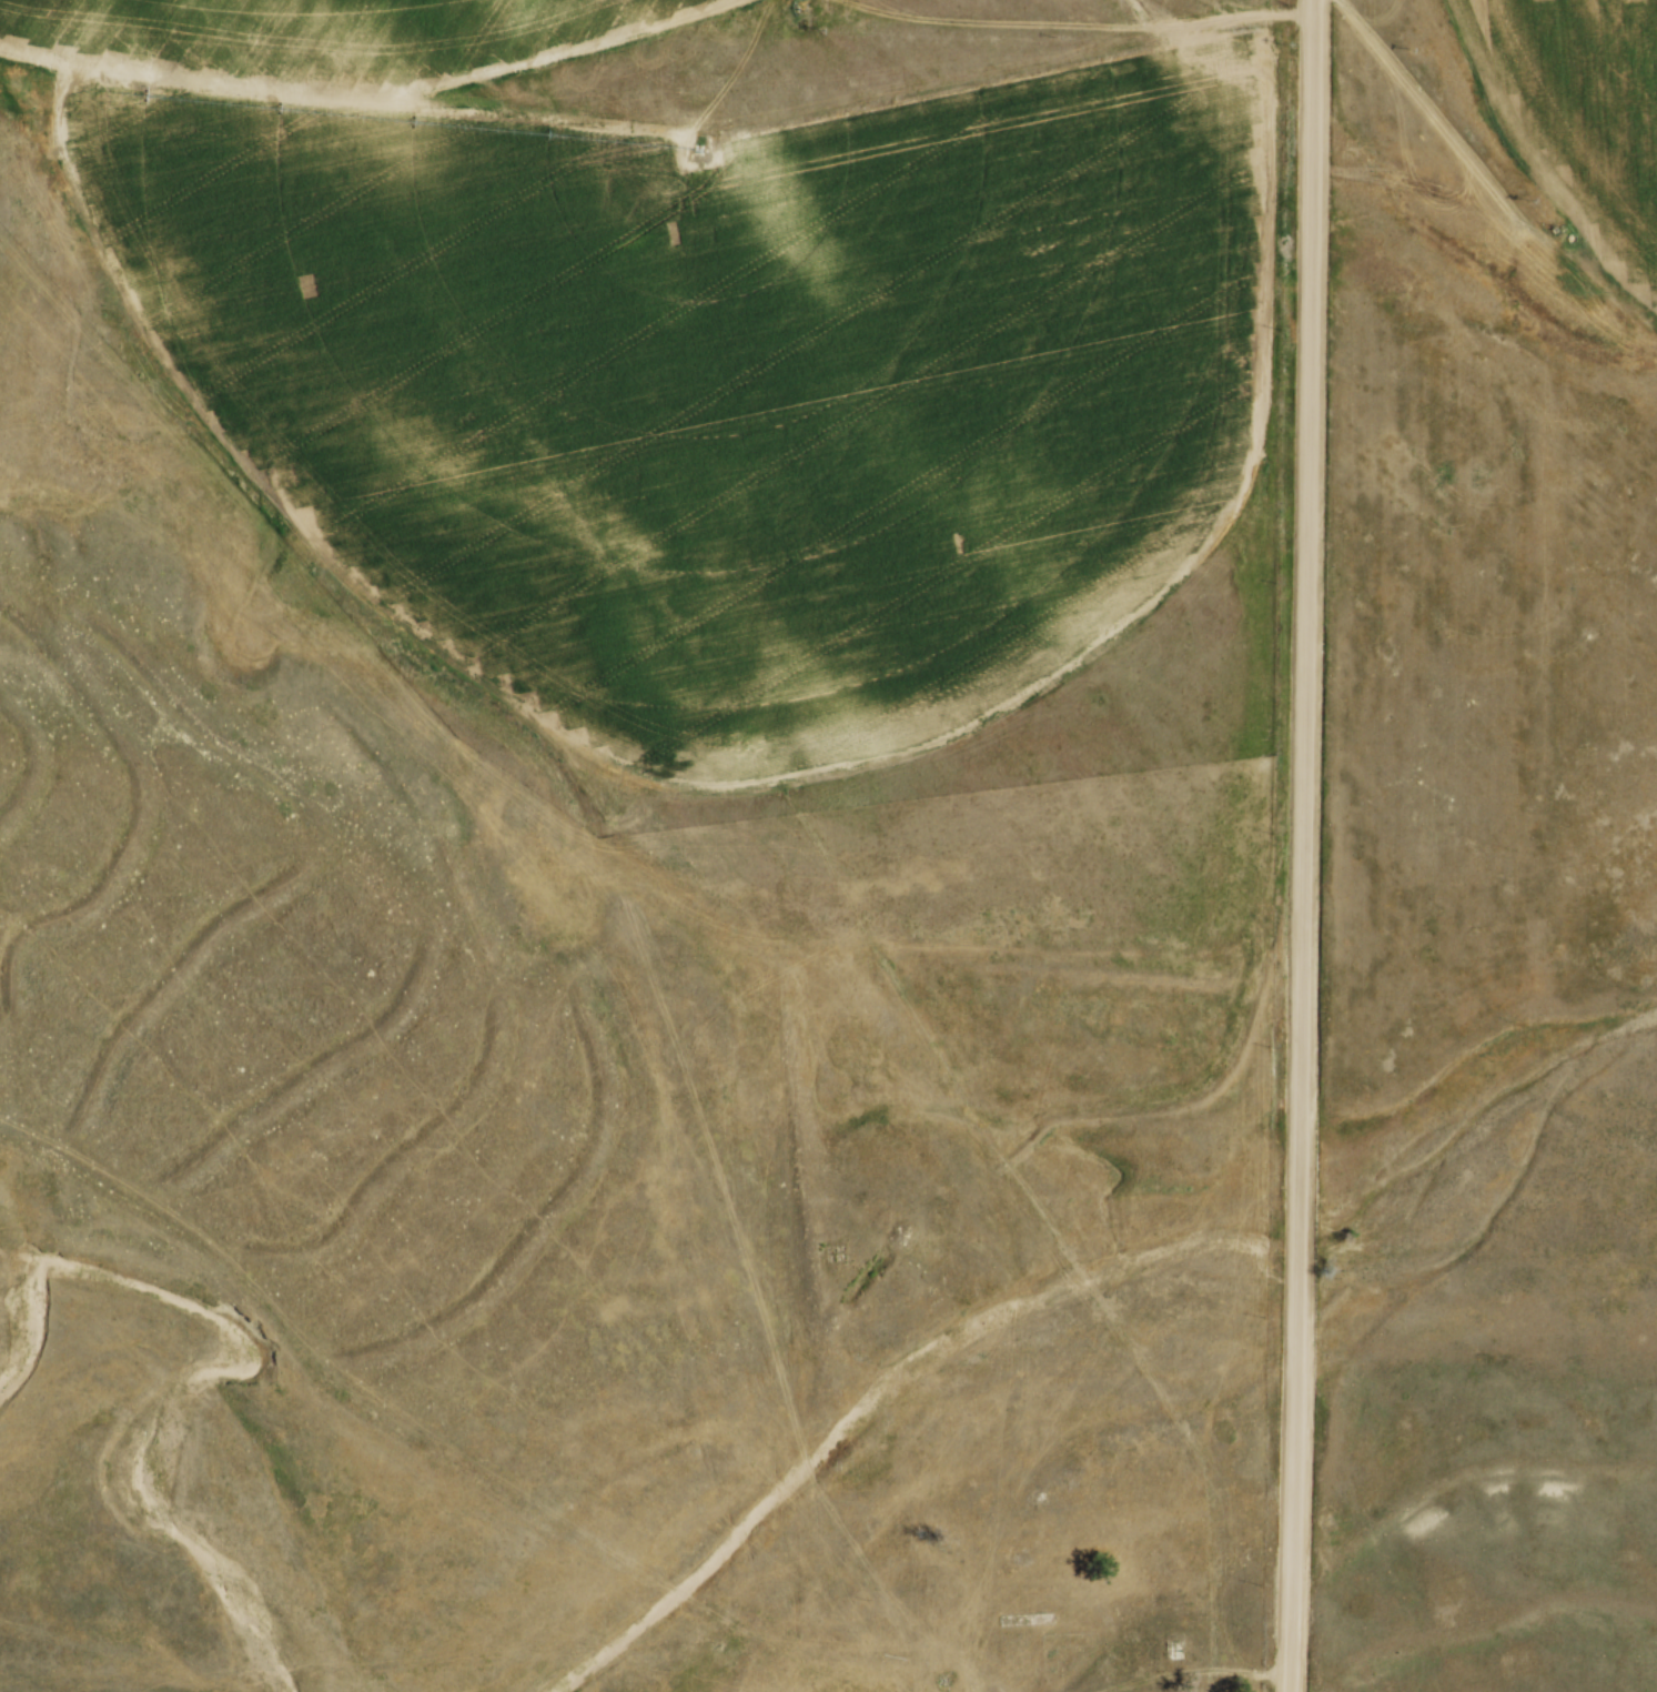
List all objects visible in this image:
road: (1307, 846)

